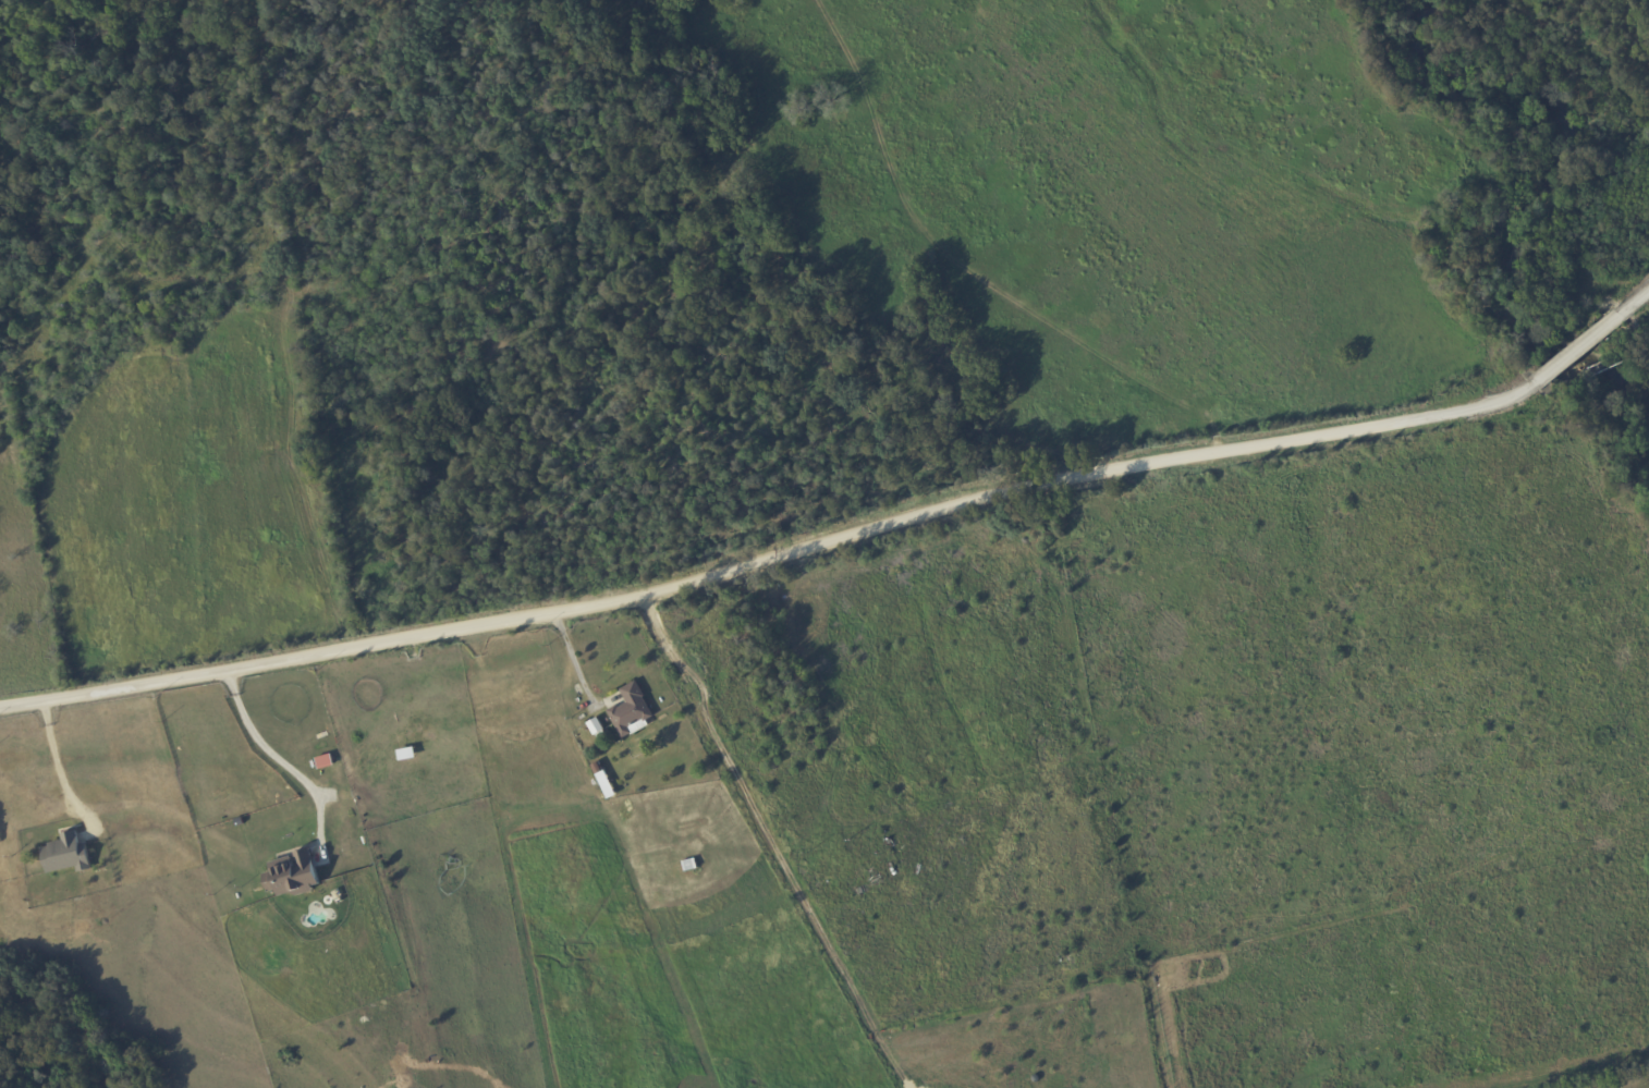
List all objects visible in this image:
road: (841, 531)
road: (58, 762)
road: (267, 762)
building: (65, 854)
building: (290, 875)

